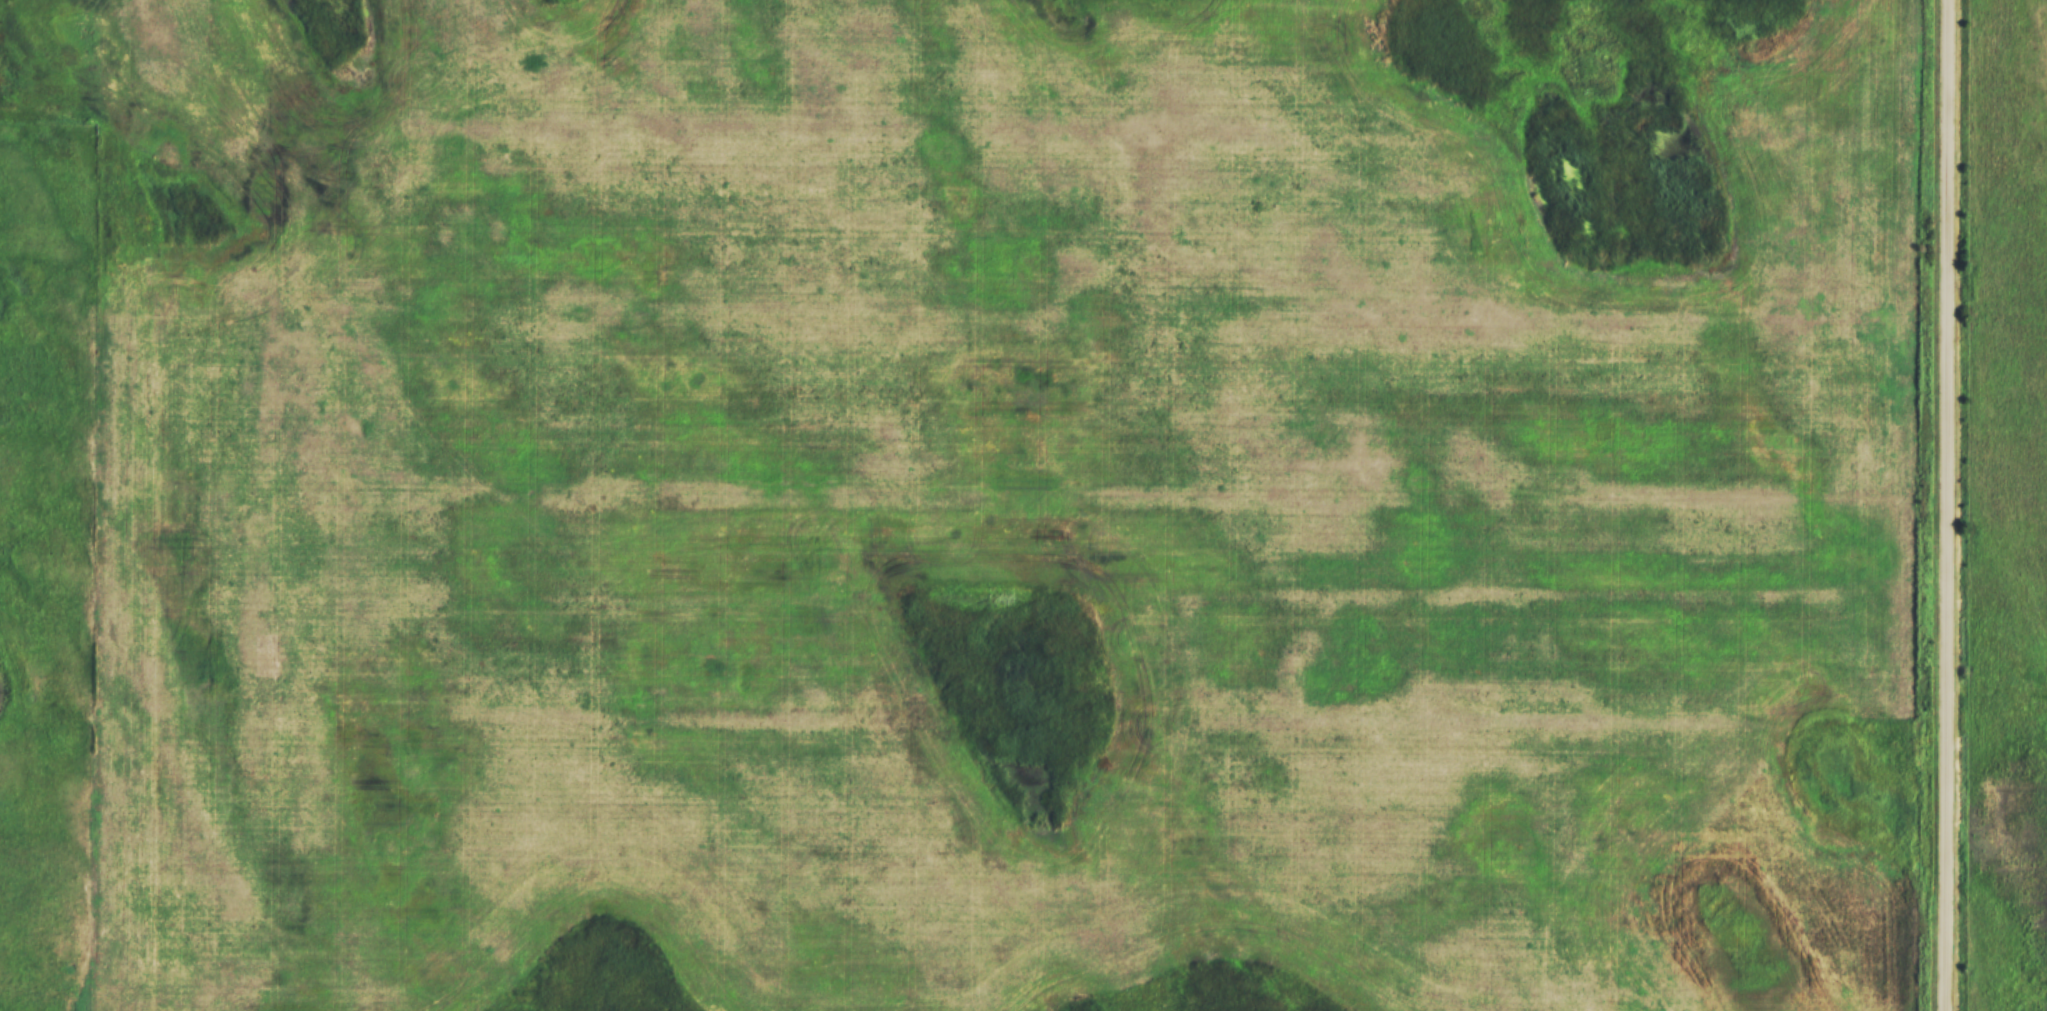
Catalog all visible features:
road: (1946, 505)

